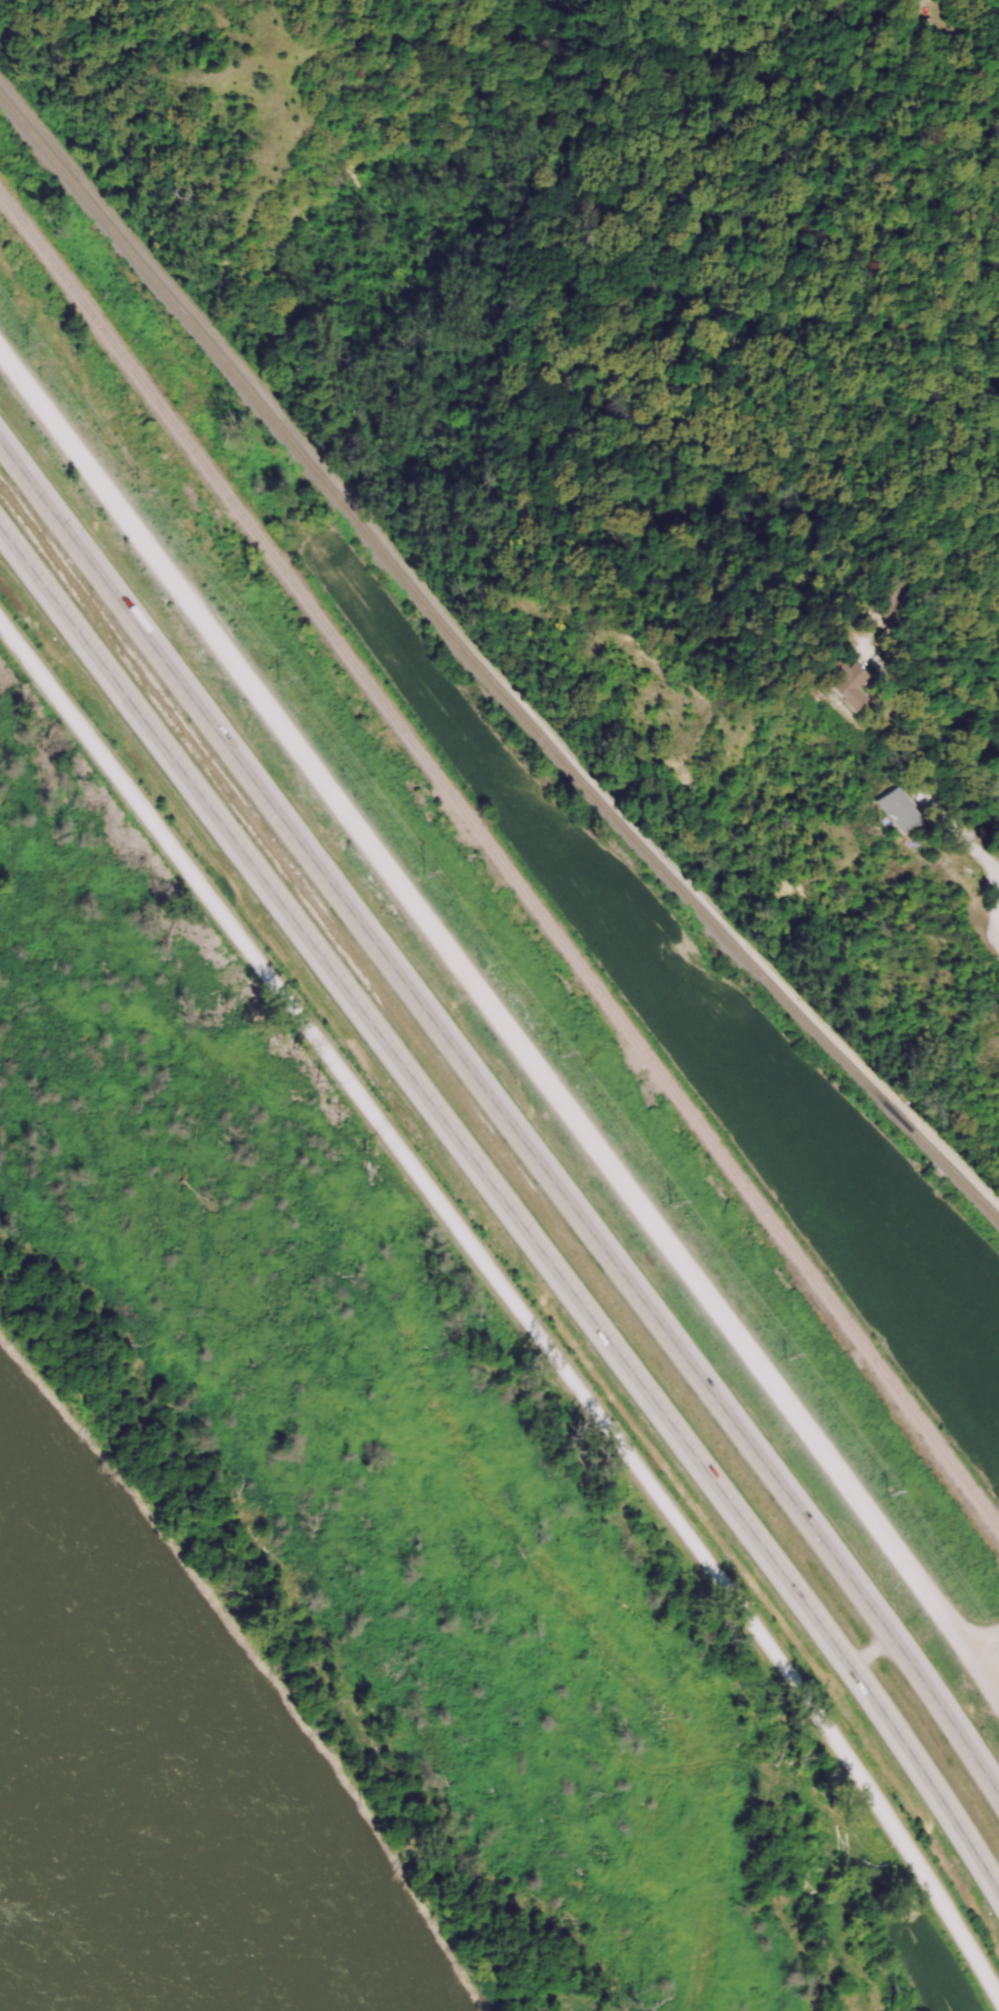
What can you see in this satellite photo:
power tower: (26, 344)
power tower: (138, 492)
railway: (484, 670)
power tower: (276, 679)
road: (919, 787)
building: (867, 809)
railway: (500, 861)
power tower: (422, 871)
building: (985, 974)
road: (502, 1022)
power tower: (556, 1053)
road: (503, 1113)
power tower: (671, 1200)
road: (507, 1206)
road: (512, 1302)
power tower: (786, 1355)
power tower: (887, 1496)
road: (982, 1643)
road: (871, 1652)
river: (102, 1834)

